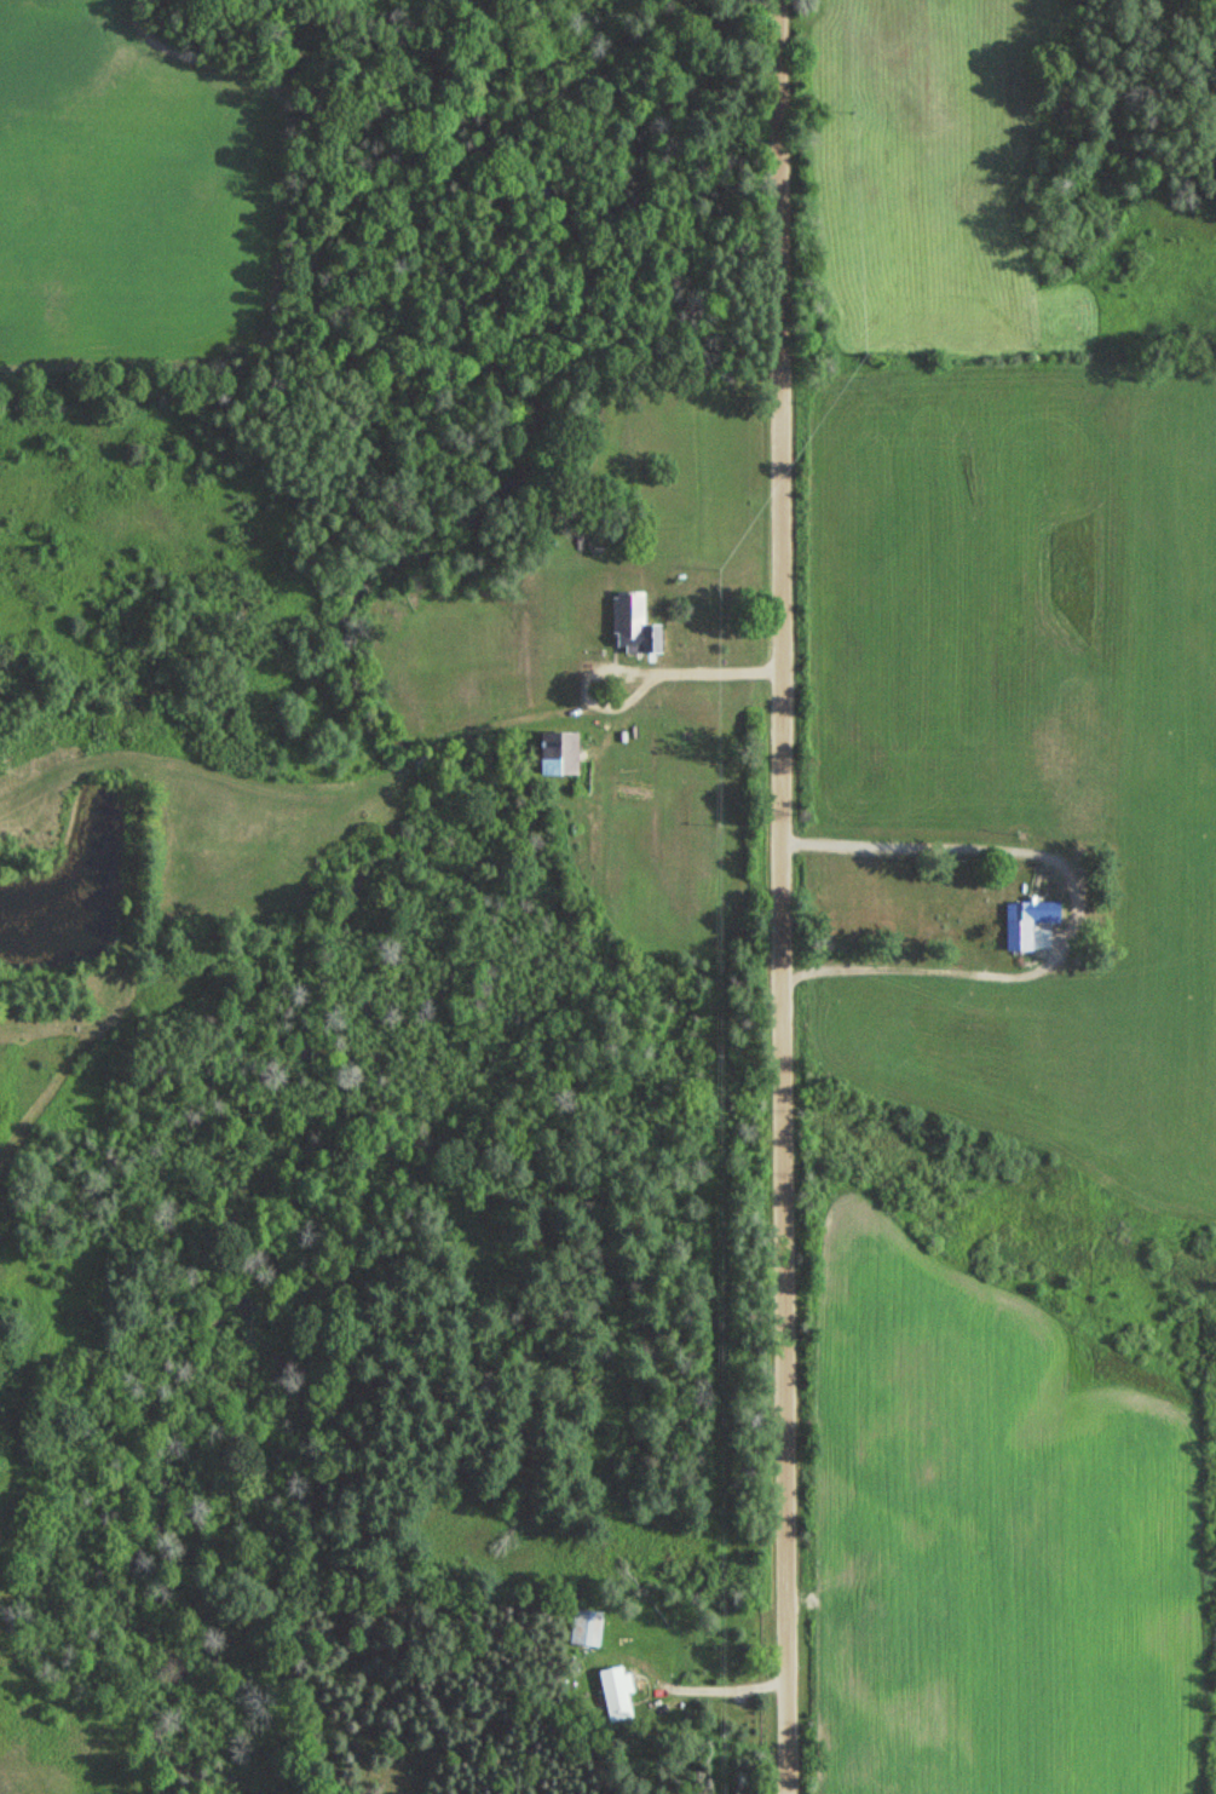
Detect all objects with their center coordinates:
building: (630, 626)
building: (560, 761)
road: (922, 851)
road: (783, 897)
building: (1032, 912)
building: (587, 1627)
building: (616, 1692)

